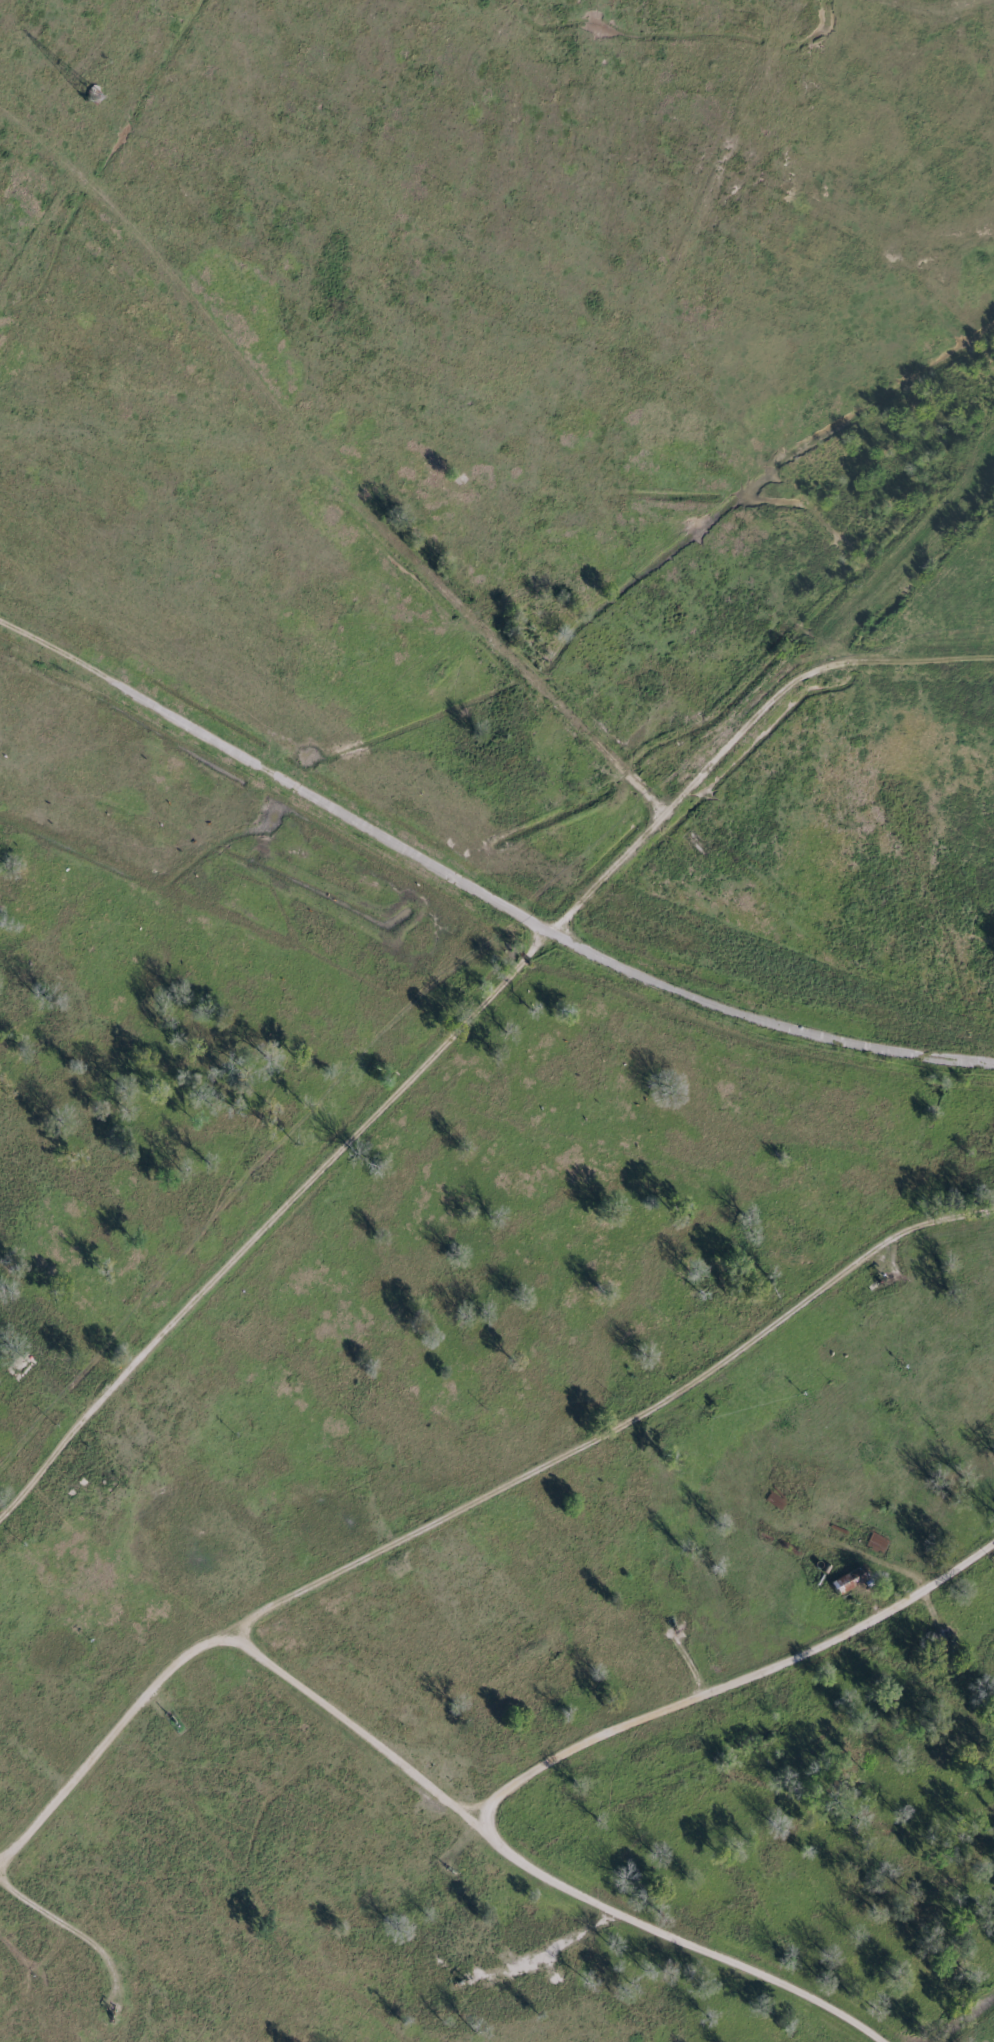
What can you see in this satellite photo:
road: (737, 730)
road: (406, 858)
road: (907, 1049)
road: (268, 1224)
building: (846, 1580)
road: (528, 1777)

